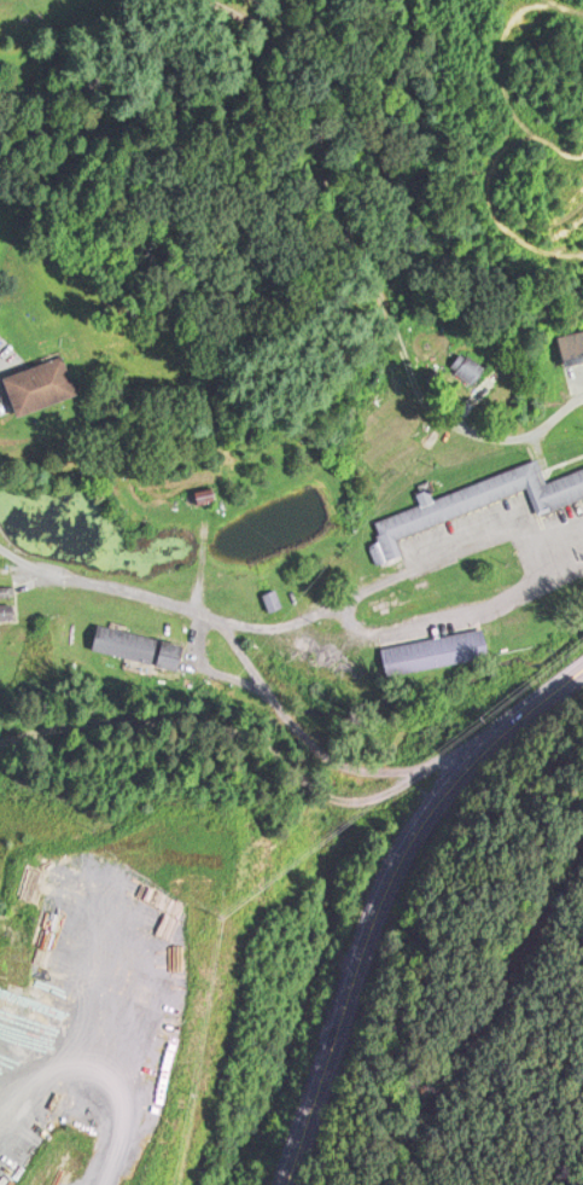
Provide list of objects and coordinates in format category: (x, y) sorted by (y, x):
road: (377, 268)
building: (573, 342)
road: (10, 358)
building: (470, 366)
building: (43, 376)
building: (486, 500)
road: (0, 546)
building: (275, 600)
building: (8, 612)
road: (292, 620)
building: (141, 645)
building: (436, 655)
road: (544, 701)
road: (291, 720)
road: (268, 744)
road: (373, 943)

